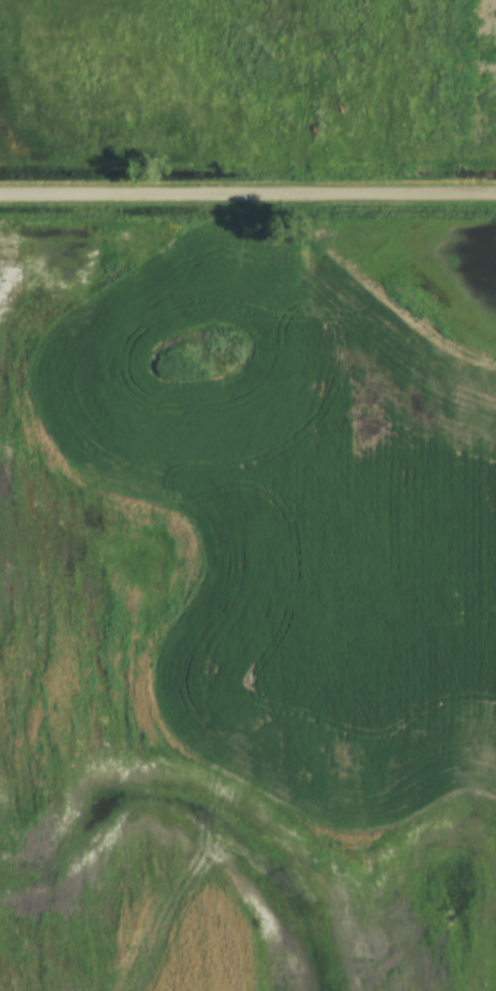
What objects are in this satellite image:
road: (247, 193)
crop: (248, 609)

